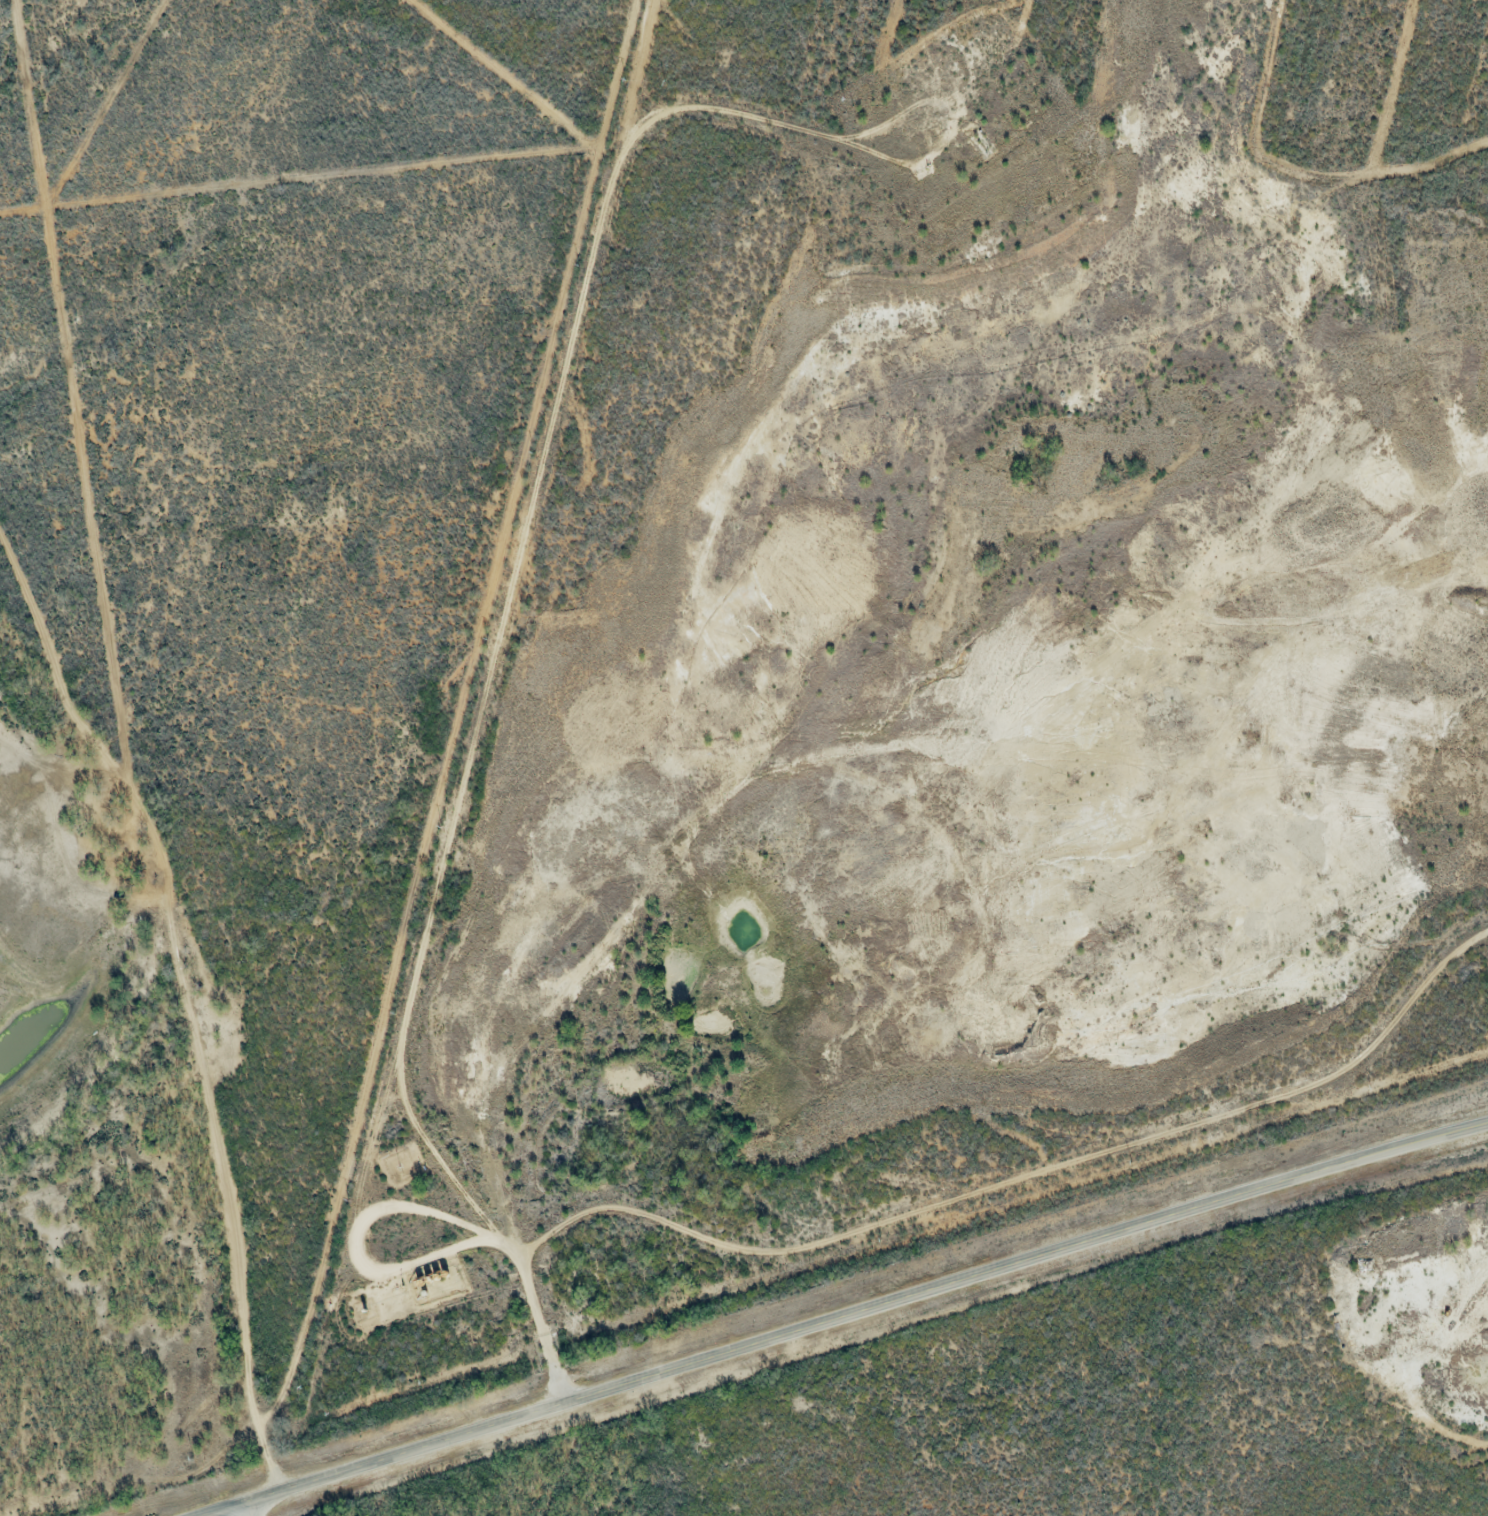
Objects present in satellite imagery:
road: (533, 60)
road: (494, 610)
road: (200, 1027)
road: (845, 1315)

